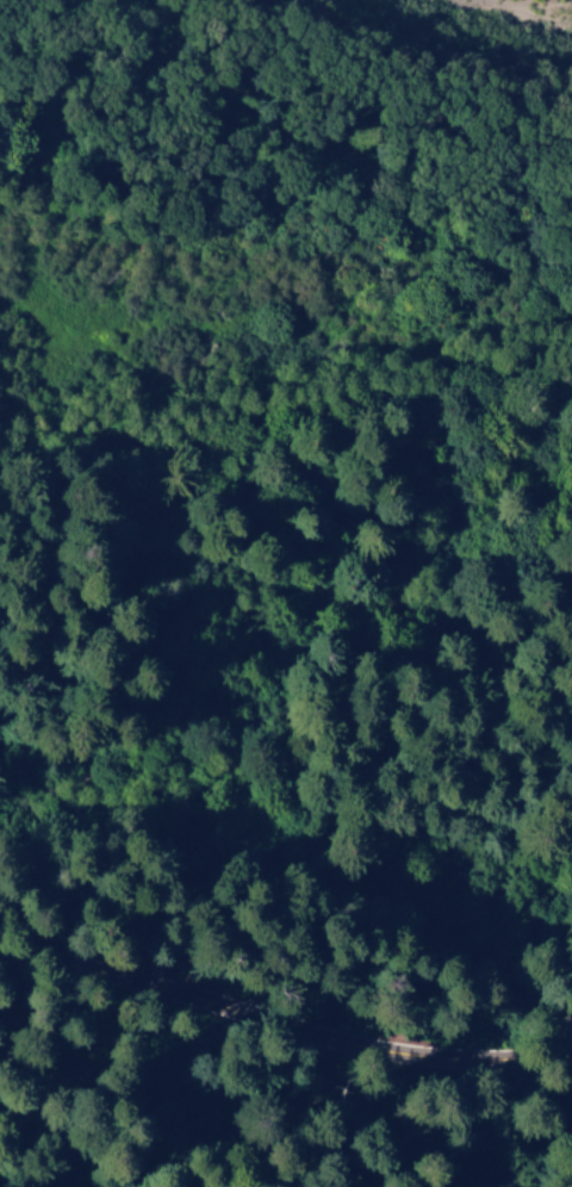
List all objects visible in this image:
road: (285, 1017)

